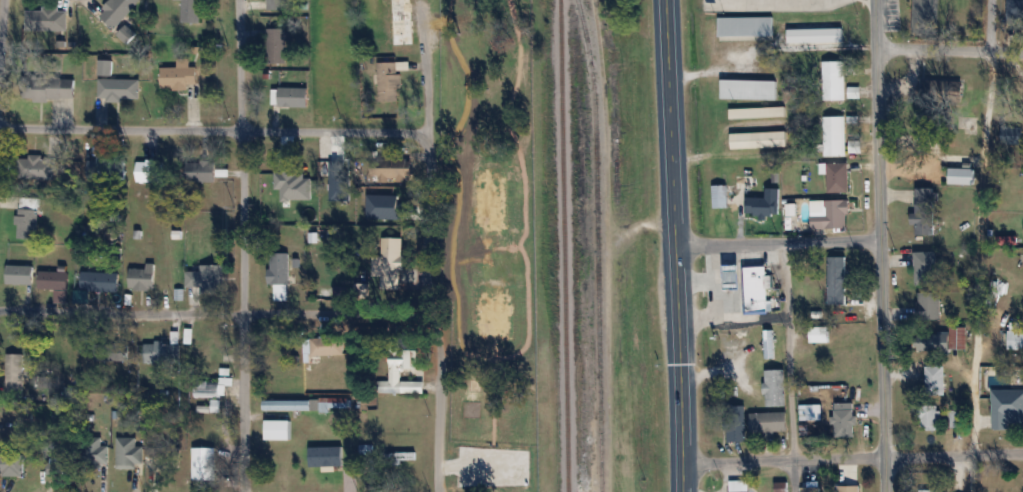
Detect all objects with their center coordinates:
building: (276, 4)
building: (1015, 8)
building: (118, 10)
building: (192, 11)
building: (927, 16)
road: (1, 19)
building: (47, 19)
building: (401, 22)
building: (746, 26)
building: (277, 45)
road: (947, 51)
building: (105, 67)
road: (429, 71)
building: (180, 76)
building: (389, 82)
building: (834, 82)
building: (938, 85)
building: (53, 88)
building: (119, 89)
building: (748, 89)
building: (293, 97)
building: (757, 112)
building: (970, 126)
road: (213, 131)
building: (1012, 134)
building: (833, 135)
building: (758, 139)
building: (394, 167)
building: (36, 168)
building: (151, 171)
building: (200, 171)
building: (837, 176)
building: (961, 176)
building: (720, 196)
building: (766, 203)
building: (925, 211)
building: (830, 214)
building: (28, 219)
road: (777, 244)
road: (243, 245)
railway: (564, 245)
road: (674, 245)
road: (978, 245)
road: (879, 246)
building: (392, 257)
building: (926, 267)
building: (20, 274)
building: (279, 275)
building: (142, 277)
building: (212, 279)
building: (54, 280)
building: (837, 280)
building: (100, 282)
building: (751, 287)
building: (929, 306)
road: (434, 312)
road: (217, 313)
building: (819, 334)
building: (1015, 336)
building: (952, 339)
building: (769, 344)
building: (321, 348)
building: (111, 352)
building: (162, 352)
building: (403, 359)
road: (785, 367)
building: (13, 375)
building: (936, 378)
building: (775, 387)
building: (210, 388)
building: (183, 389)
building: (288, 405)
building: (323, 405)
building: (1007, 409)
building: (843, 414)
building: (930, 418)
building: (957, 419)
building: (27, 420)
building: (769, 422)
building: (736, 429)
building: (278, 430)
building: (366, 449)
building: (98, 450)
building: (129, 453)
building: (160, 455)
building: (326, 457)
road: (853, 460)
building: (204, 463)
building: (11, 465)
building: (999, 484)
building: (741, 486)
building: (848, 488)
building: (812, 489)
building: (933, 491)

